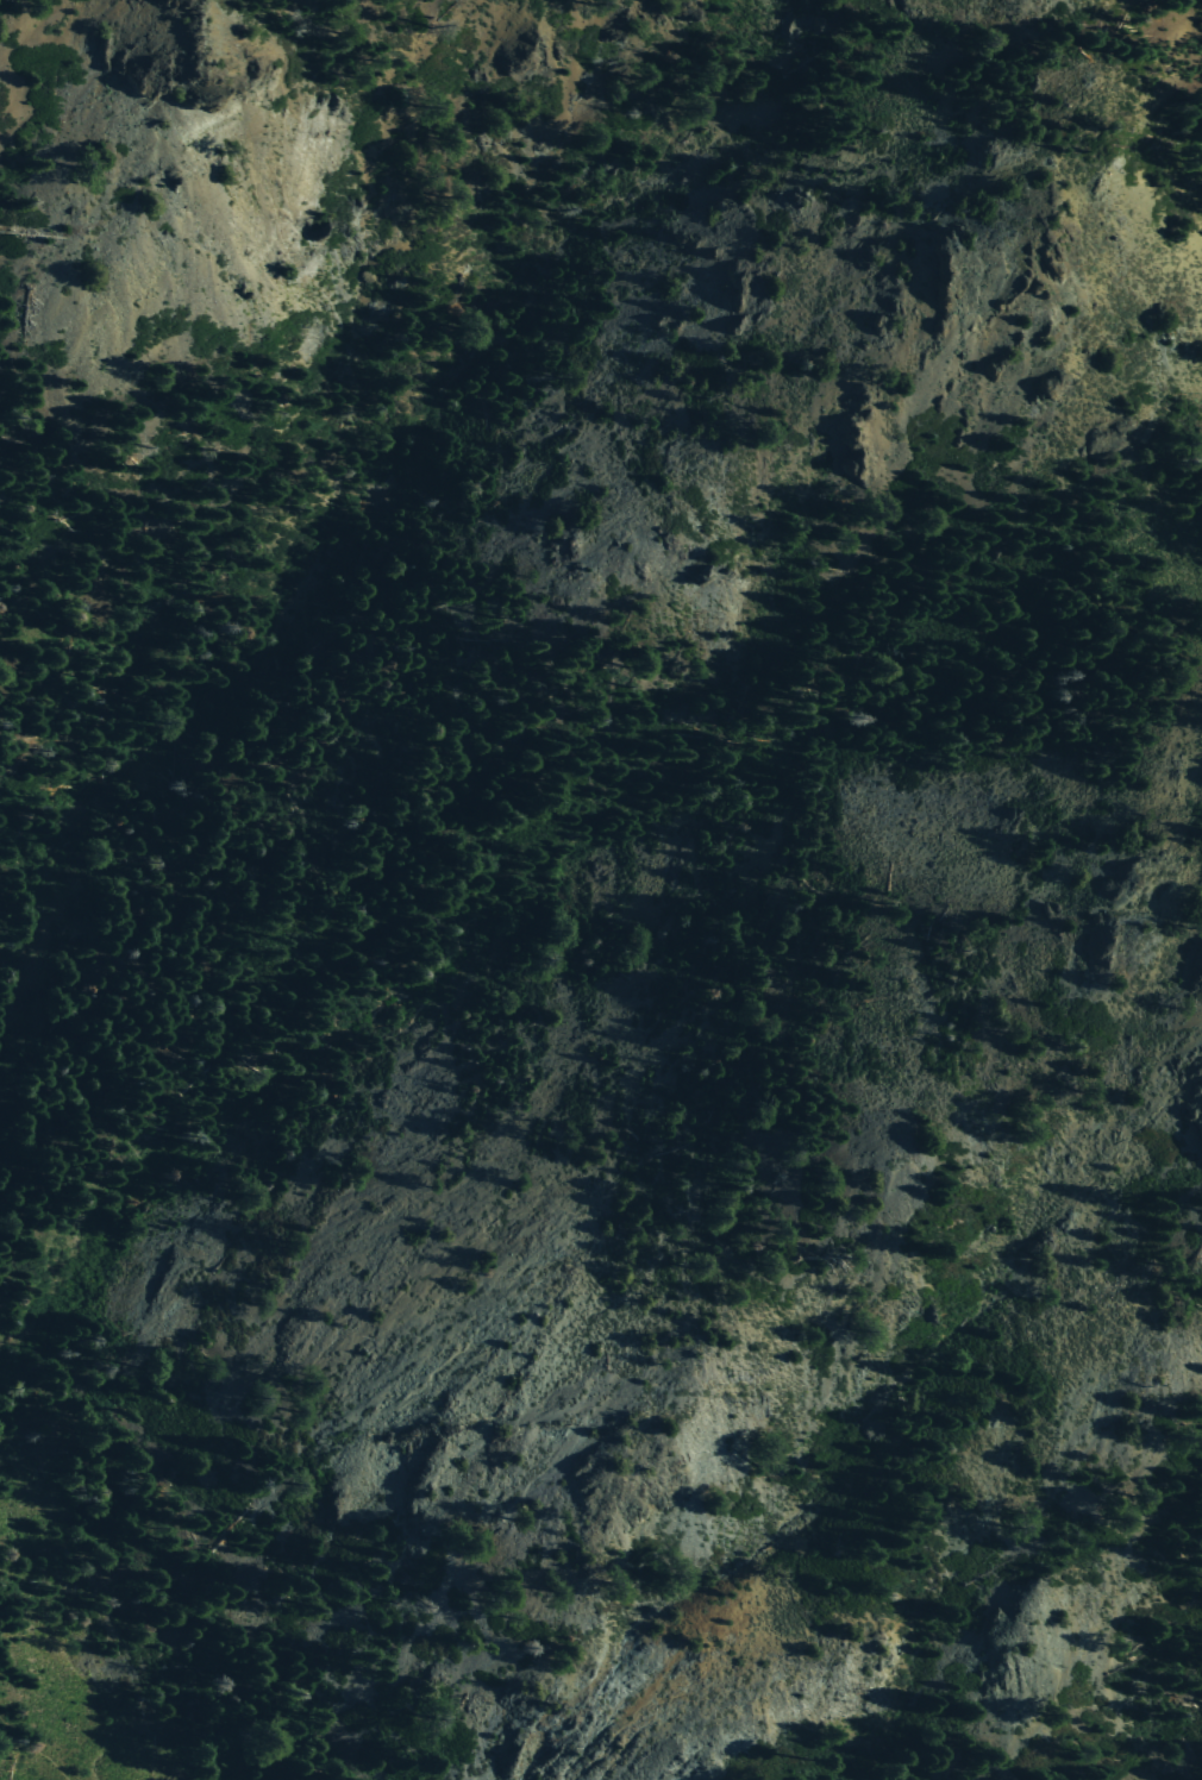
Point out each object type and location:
road: (29, 1748)

